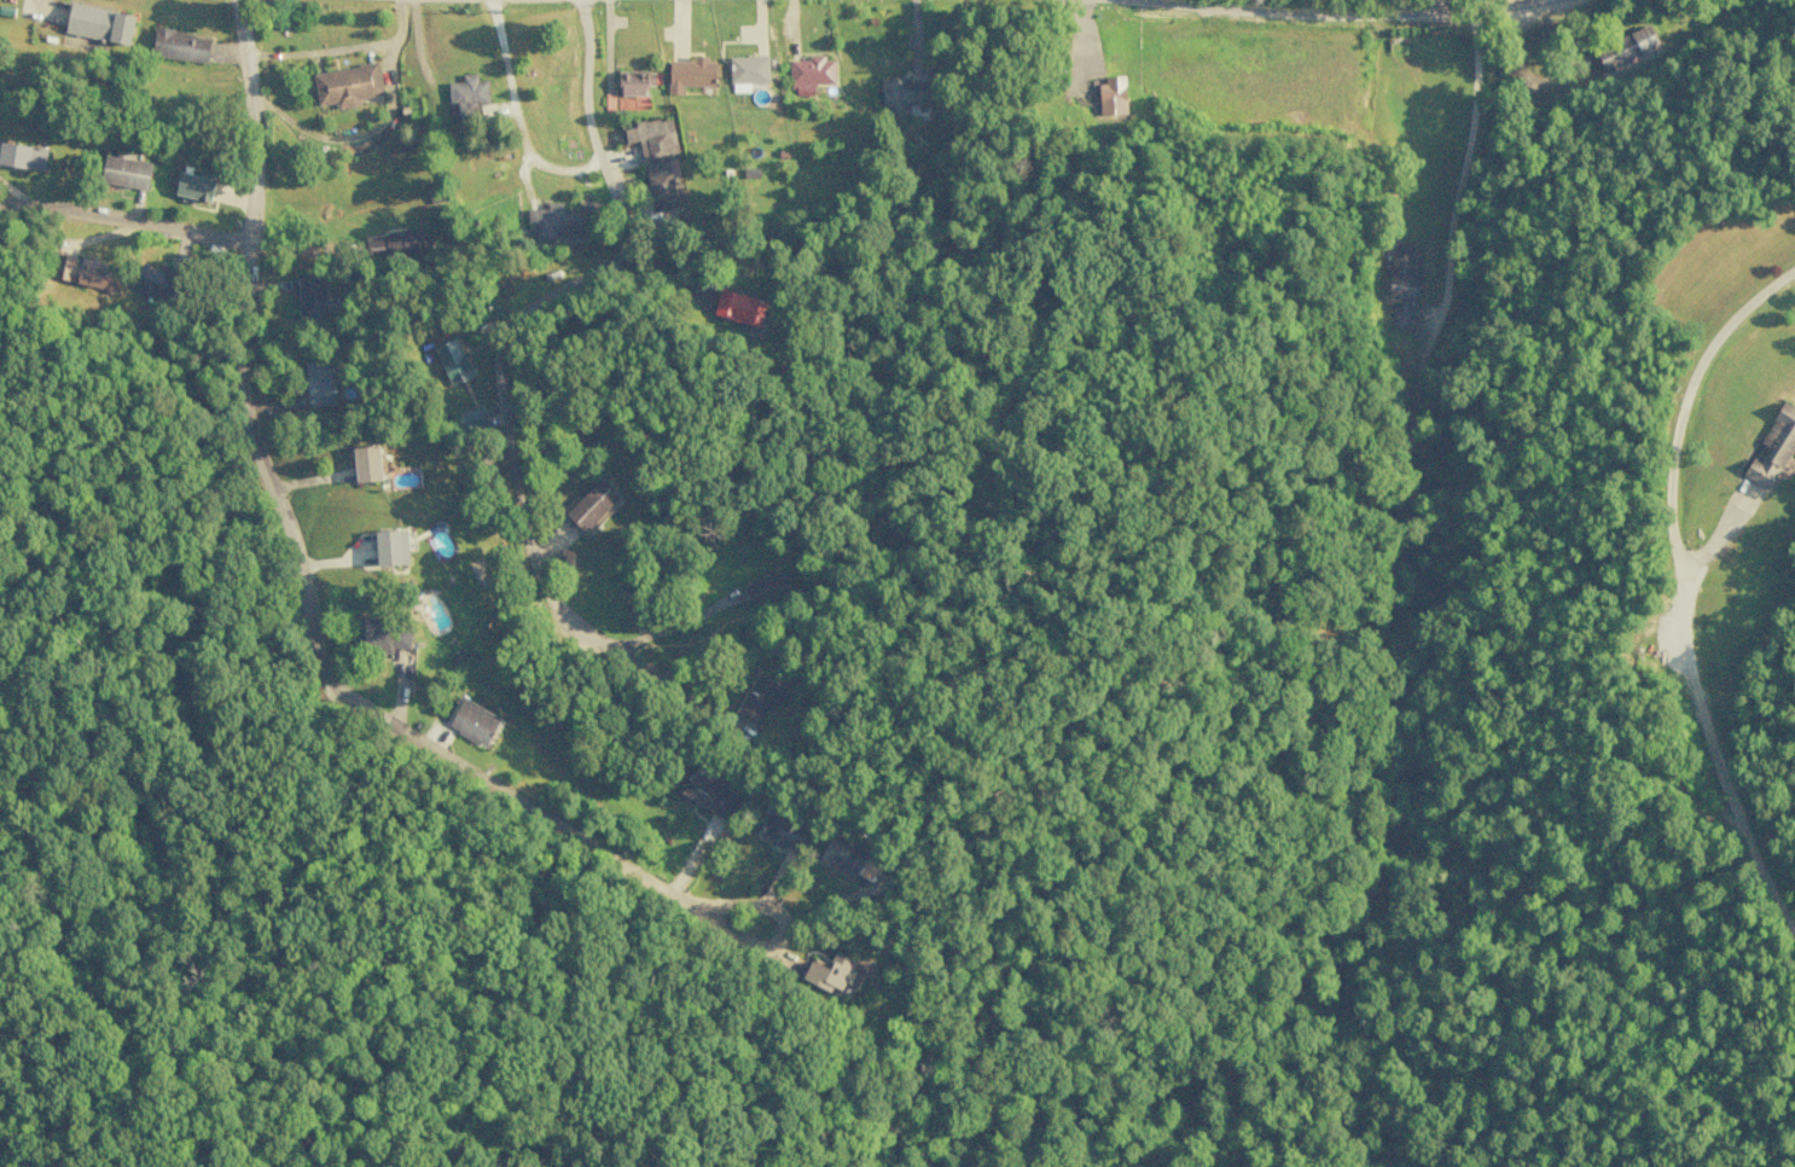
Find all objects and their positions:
road: (1442, 4)
road: (1334, 10)
building: (99, 23)
building: (180, 46)
building: (1625, 47)
building: (748, 69)
building: (809, 71)
building: (691, 74)
building: (635, 82)
building: (347, 85)
building: (902, 95)
building: (1110, 95)
building: (22, 156)
building: (656, 157)
road: (1459, 158)
building: (124, 172)
building: (194, 187)
road: (124, 217)
building: (83, 272)
building: (147, 283)
building: (1402, 285)
building: (312, 302)
building: (738, 307)
road: (523, 309)
road: (704, 343)
building: (318, 383)
building: (1772, 447)
building: (366, 464)
building: (592, 506)
road: (295, 555)
building: (766, 587)
road: (1681, 615)
building: (382, 635)
building: (759, 698)
building: (474, 721)
building: (708, 795)
building: (780, 831)
building: (842, 855)
road: (702, 908)
building: (830, 972)

